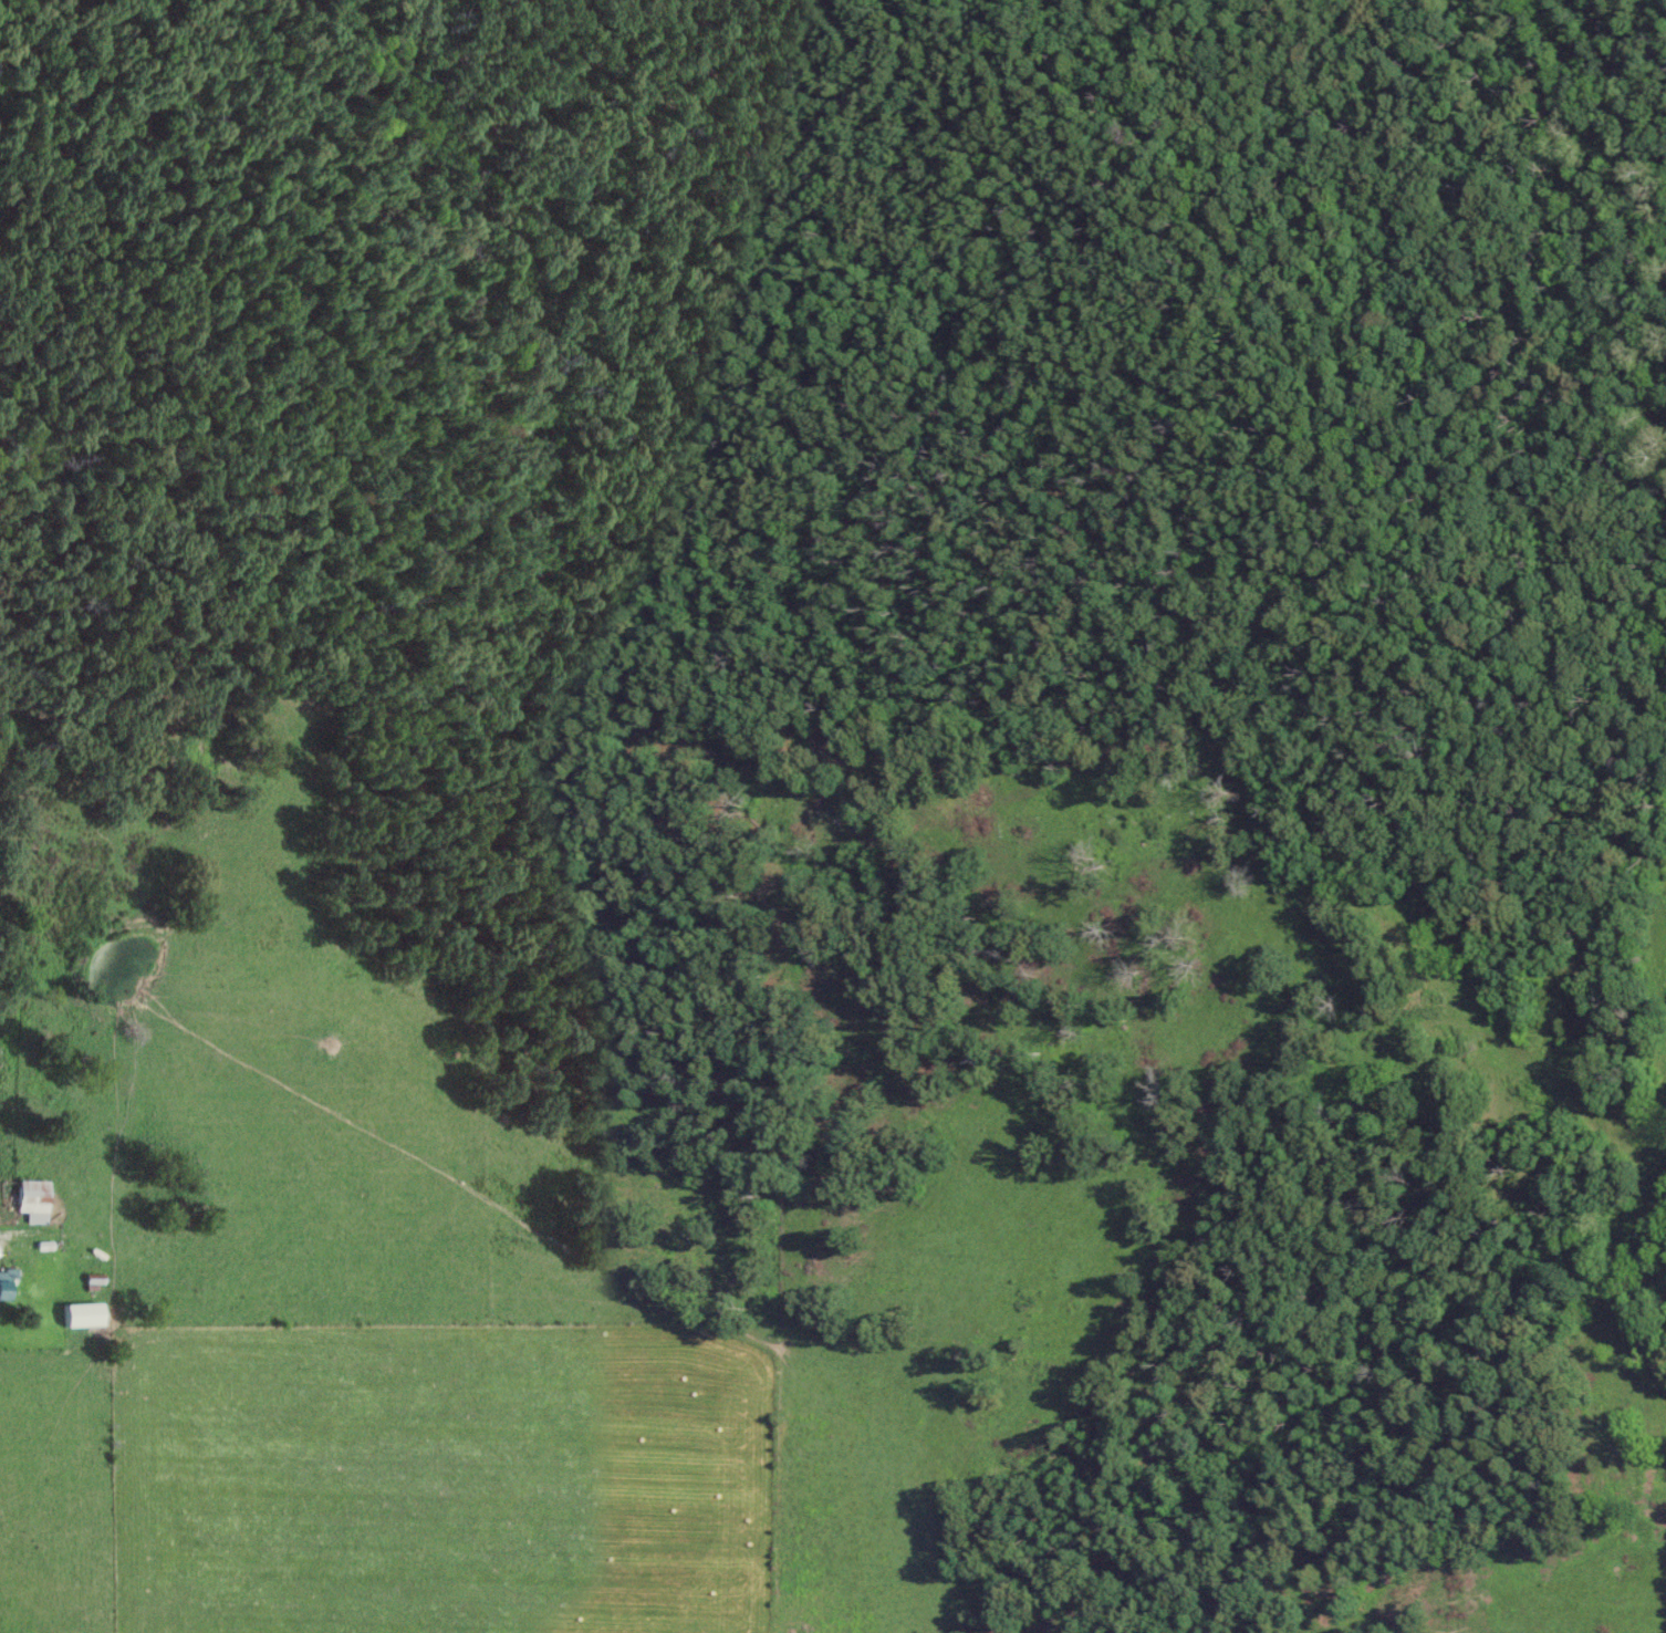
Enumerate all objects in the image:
building: (34, 1200)
building: (6, 1284)

